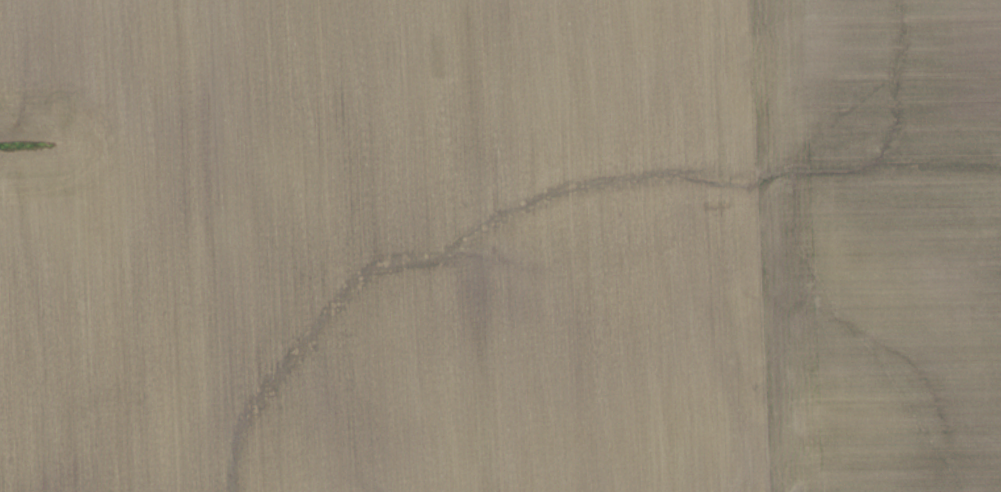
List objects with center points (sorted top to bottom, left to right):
crop: (500, 246)

